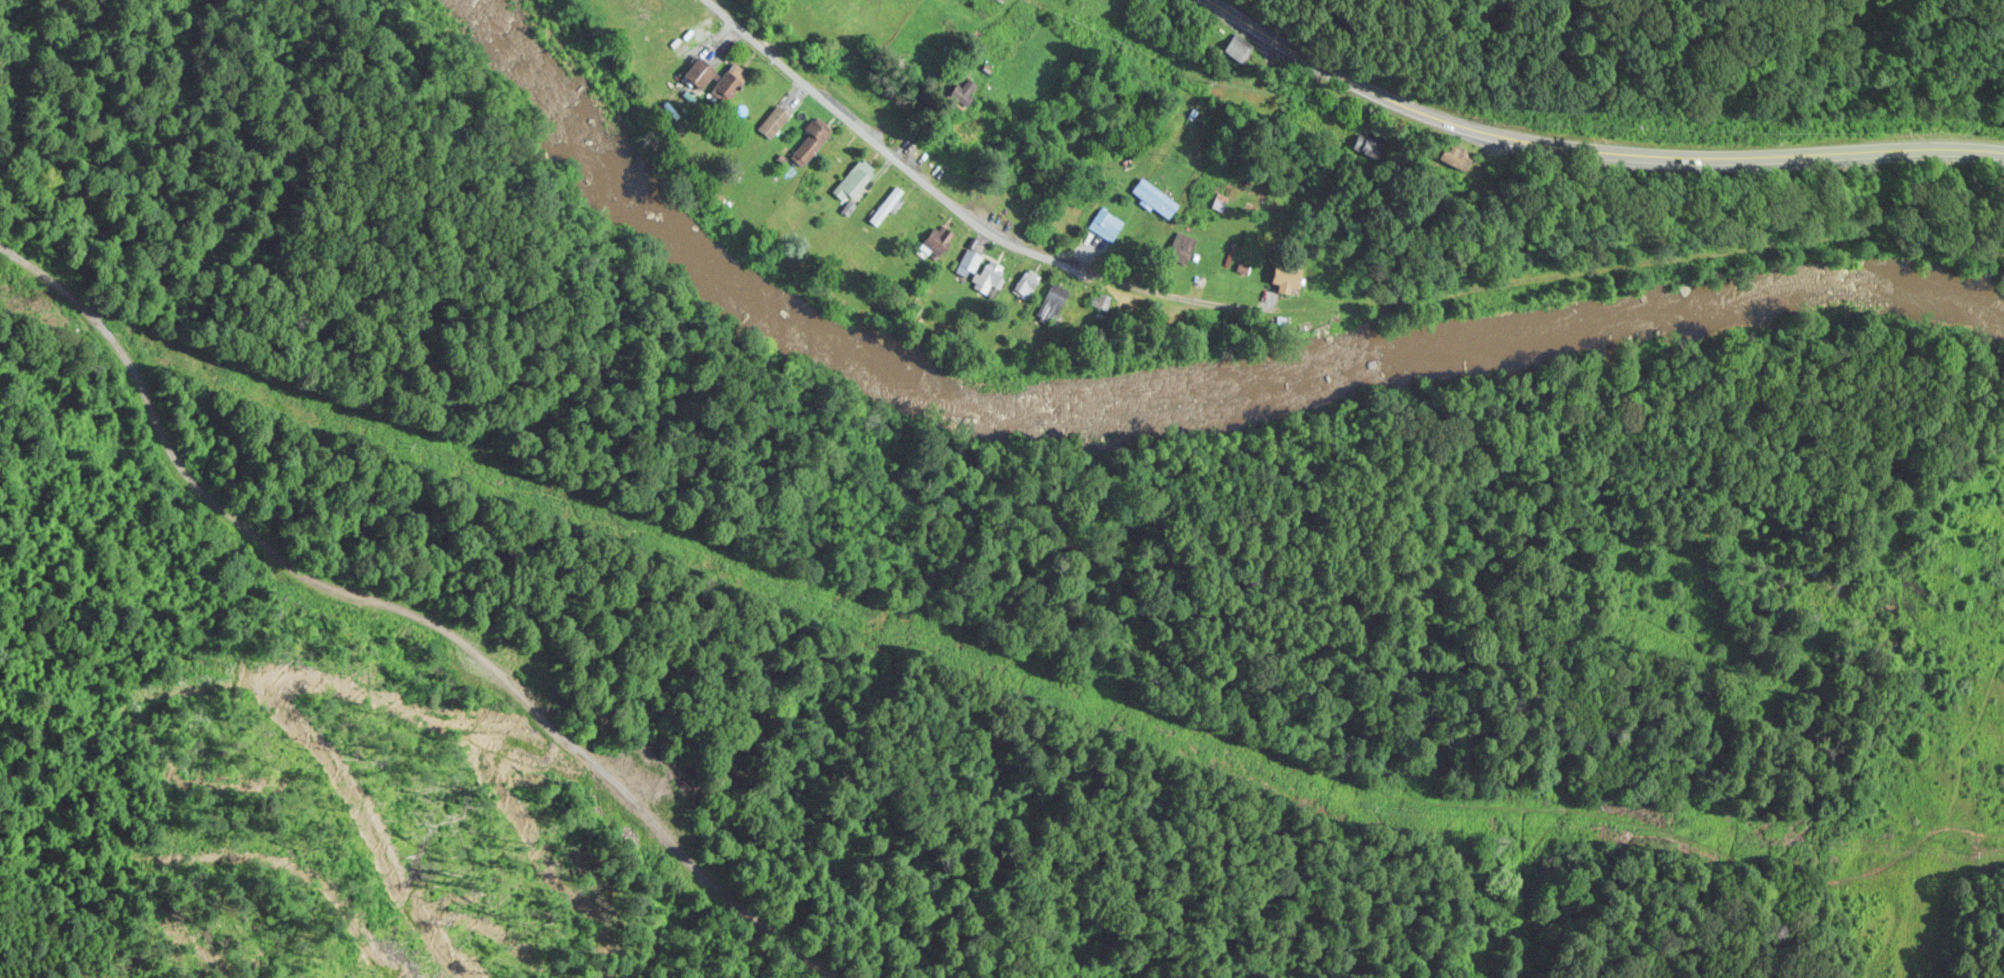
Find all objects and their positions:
building: (1242, 46)
building: (704, 70)
building: (733, 80)
building: (776, 119)
building: (814, 139)
road: (1594, 143)
building: (1371, 144)
building: (857, 177)
building: (1157, 196)
building: (888, 203)
road: (974, 217)
building: (1111, 219)
road: (1651, 230)
building: (1185, 242)
building: (973, 256)
building: (992, 273)
building: (1291, 275)
building: (1029, 281)
building: (1055, 300)
river: (1129, 431)

